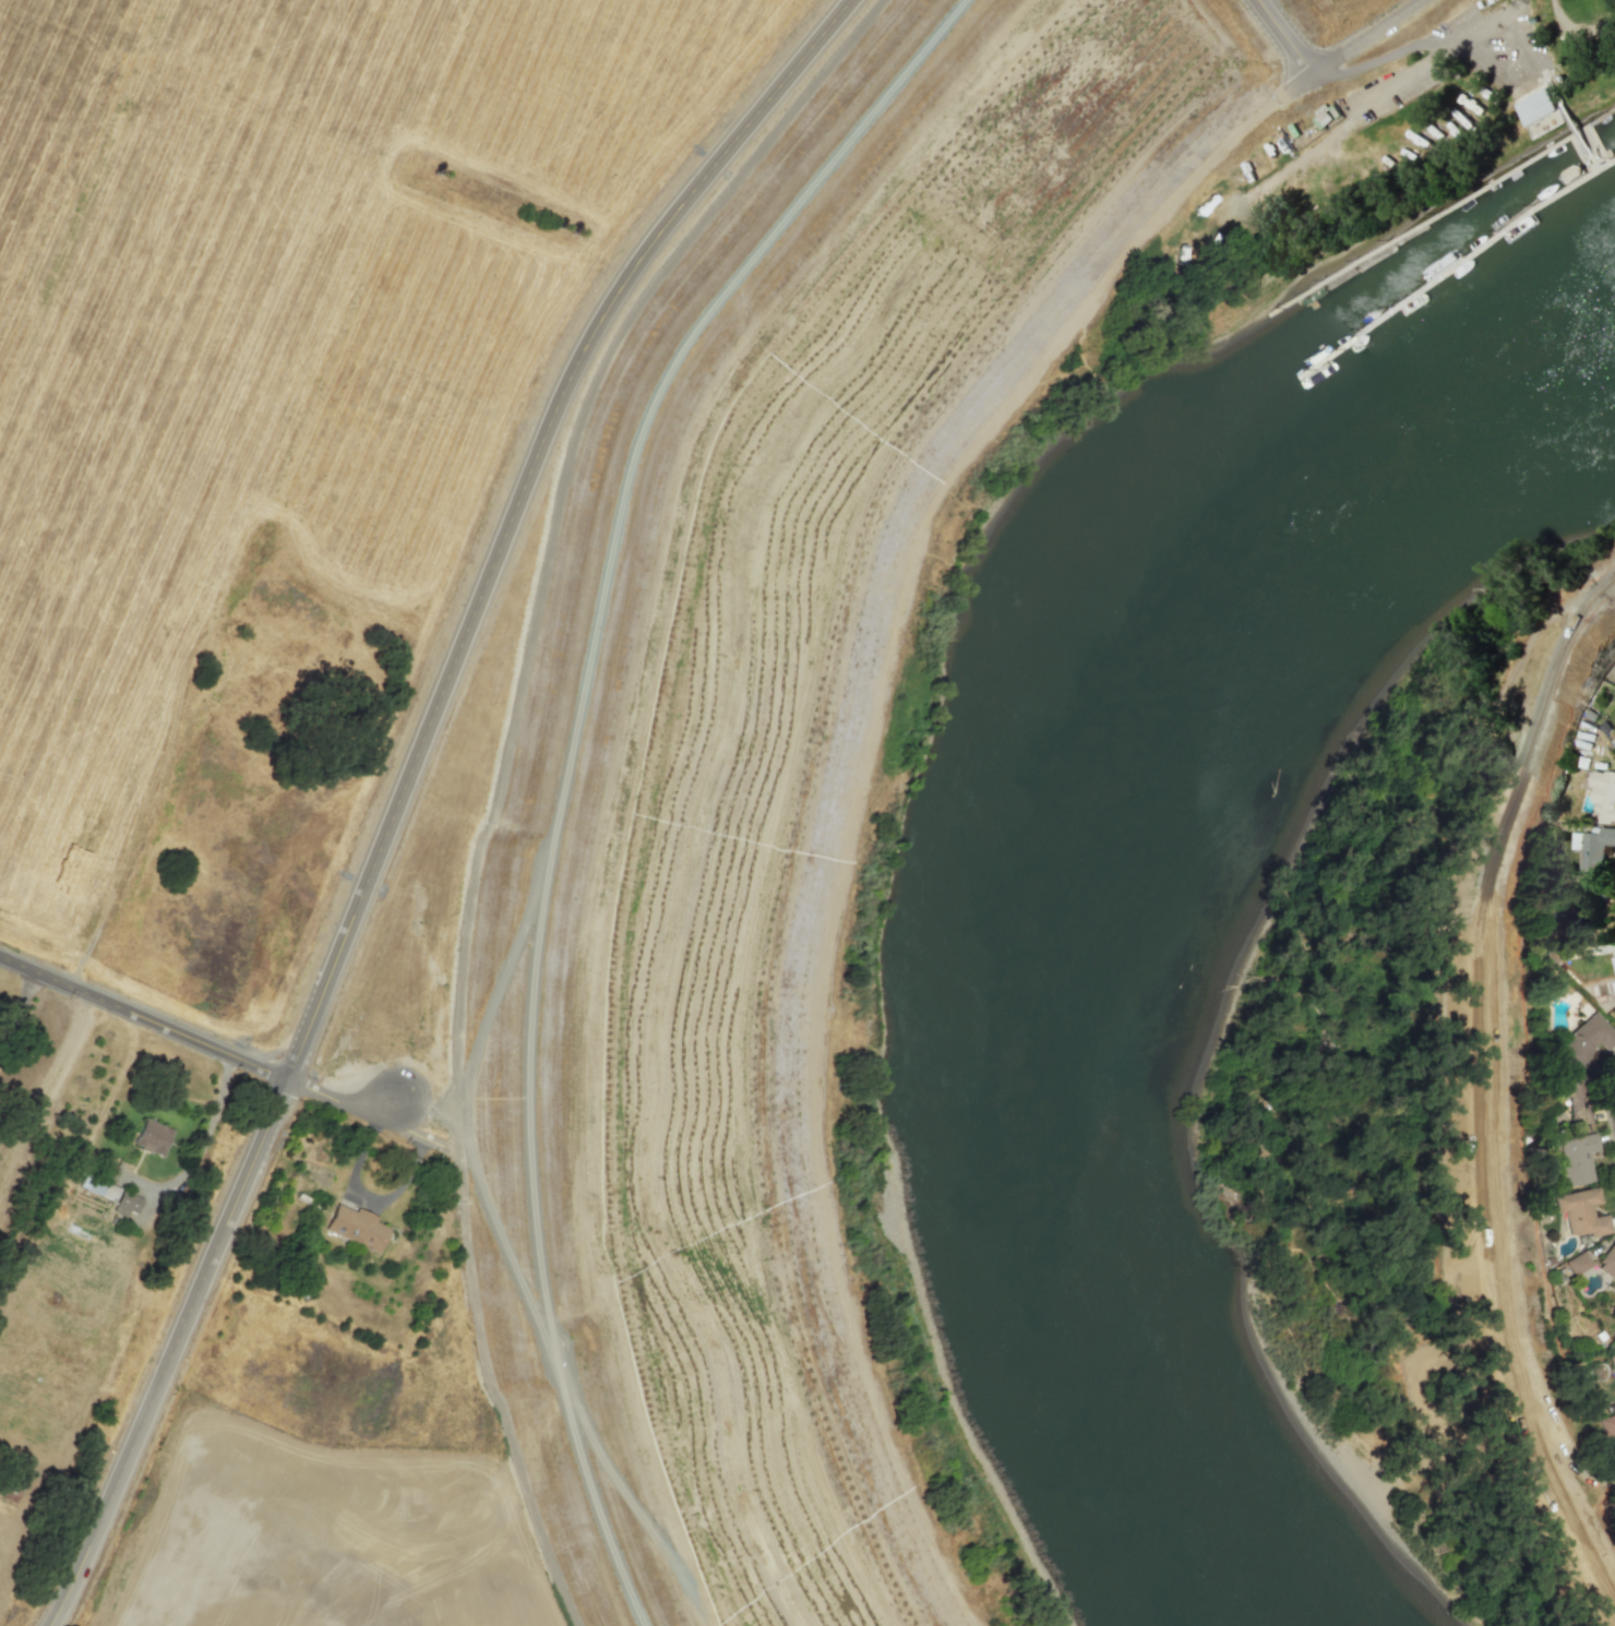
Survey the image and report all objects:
road: (1284, 36)
road: (1416, 45)
building: (1535, 106)
road: (1062, 160)
road: (1125, 171)
road: (865, 718)
road: (402, 785)
building: (1603, 796)
building: (1592, 847)
river: (1070, 856)
building: (1613, 961)
road: (20, 1008)
road: (143, 1017)
building: (1586, 1041)
road: (1484, 1086)
building: (1571, 1091)
road: (363, 1111)
building: (152, 1135)
road: (199, 1145)
building: (1574, 1160)
building: (97, 1187)
road: (369, 1195)
building: (127, 1199)
building: (1580, 1212)
building: (358, 1226)
building: (1607, 1262)
building: (1577, 1263)
building: (1612, 1362)
building: (1607, 1428)

